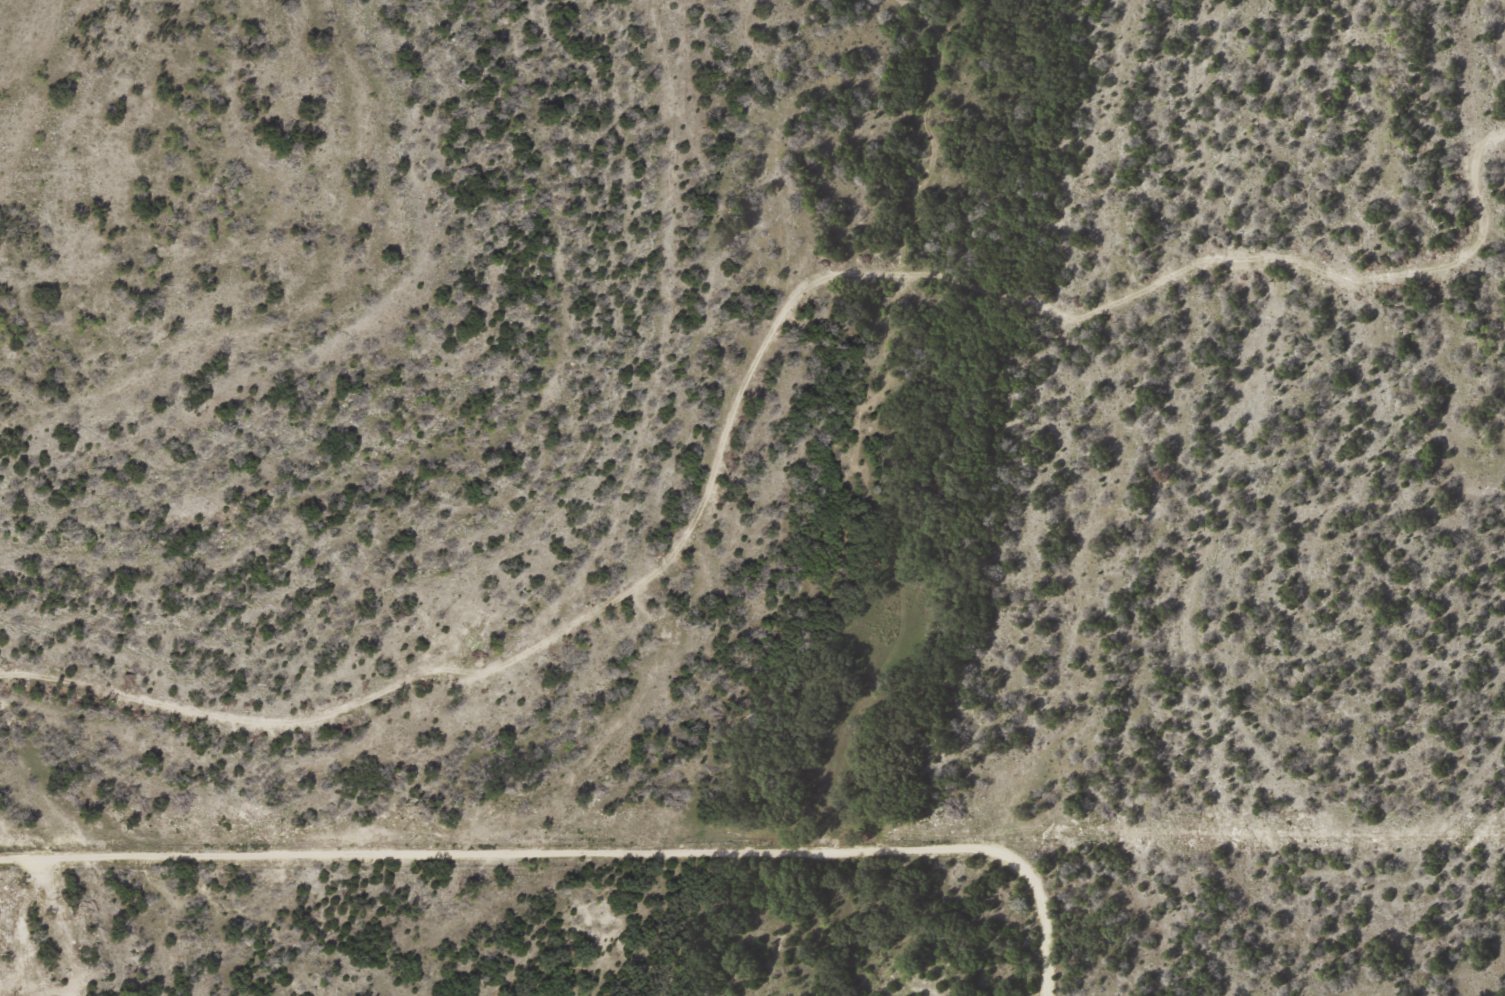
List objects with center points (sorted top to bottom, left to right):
road: (743, 348)
road: (539, 874)

